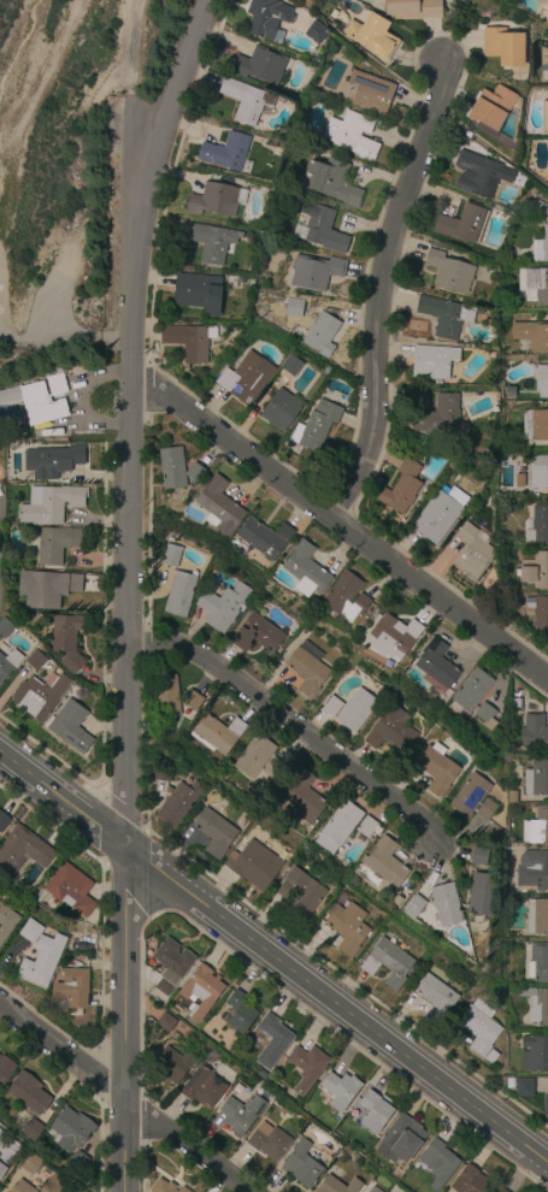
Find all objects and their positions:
building: (543, 1)
building: (413, 8)
building: (547, 11)
building: (266, 18)
building: (316, 31)
building: (372, 36)
road: (55, 42)
building: (503, 47)
road: (128, 48)
building: (261, 65)
building: (547, 70)
building: (370, 92)
building: (246, 101)
building: (493, 107)
building: (546, 117)
building: (350, 135)
building: (228, 153)
building: (276, 153)
road: (124, 155)
building: (476, 175)
building: (330, 179)
building: (518, 182)
building: (214, 199)
building: (537, 210)
building: (460, 224)
building: (319, 230)
building: (210, 241)
building: (542, 246)
building: (449, 271)
building: (316, 272)
building: (232, 282)
building: (535, 287)
building: (199, 291)
road: (382, 296)
building: (294, 307)
building: (444, 315)
dam: (4, 326)
building: (322, 334)
building: (531, 335)
road: (63, 340)
building: (190, 342)
building: (431, 362)
building: (290, 365)
building: (75, 371)
building: (246, 378)
building: (542, 378)
building: (57, 383)
building: (35, 403)
building: (279, 409)
building: (438, 415)
building: (535, 425)
building: (317, 427)
building: (52, 461)
building: (171, 468)
building: (195, 472)
building: (544, 478)
building: (401, 488)
building: (51, 504)
building: (219, 506)
building: (437, 513)
building: (537, 525)
road: (338, 527)
building: (264, 537)
building: (58, 544)
building: (471, 551)
building: (171, 556)
building: (306, 571)
building: (535, 572)
building: (270, 583)
building: (52, 588)
road: (126, 589)
building: (179, 595)
building: (346, 597)
building: (223, 606)
building: (538, 613)
building: (48, 622)
building: (5, 627)
building: (257, 635)
building: (389, 638)
building: (67, 641)
building: (35, 661)
building: (8, 665)
building: (437, 666)
building: (307, 673)
building: (471, 690)
building: (75, 692)
building: (40, 696)
building: (166, 697)
building: (191, 701)
building: (331, 707)
building: (357, 710)
building: (484, 715)
road: (295, 726)
building: (70, 727)
building: (391, 731)
building: (534, 733)
building: (217, 734)
building: (254, 757)
building: (272, 768)
building: (437, 768)
building: (163, 773)
building: (536, 778)
building: (469, 796)
building: (512, 797)
building: (304, 798)
building: (178, 804)
building: (485, 810)
building: (4, 822)
building: (338, 827)
building: (367, 827)
building: (536, 827)
building: (214, 833)
building: (24, 849)
building: (479, 856)
building: (495, 862)
building: (384, 863)
building: (253, 865)
building: (534, 872)
building: (70, 890)
building: (300, 893)
building: (482, 893)
building: (40, 896)
building: (396, 901)
building: (446, 904)
building: (413, 907)
building: (537, 917)
building: (6, 921)
building: (478, 923)
building: (348, 928)
building: (30, 932)
building: (77, 946)
road: (273, 957)
building: (42, 961)
building: (537, 961)
building: (388, 963)
building: (171, 966)
building: (76, 989)
building: (201, 991)
building: (435, 997)
building: (537, 1007)
building: (240, 1013)
building: (165, 1023)
building: (478, 1027)
building: (272, 1041)
building: (534, 1052)
building: (229, 1054)
building: (491, 1057)
building: (172, 1064)
building: (306, 1066)
building: (5, 1069)
building: (261, 1074)
building: (508, 1084)
building: (523, 1087)
building: (202, 1088)
building: (340, 1091)
building: (28, 1092)
road: (125, 1096)
building: (546, 1103)
building: (366, 1114)
building: (241, 1115)
building: (31, 1129)
building: (71, 1129)
building: (402, 1138)
building: (269, 1141)
building: (440, 1161)
building: (79, 1163)
building: (30, 1164)
building: (301, 1166)
building: (2, 1169)
building: (469, 1181)
building: (54, 1185)
building: (337, 1186)
building: (22, 1187)
building: (165, 1187)
building: (501, 1190)
building: (182, 1191)
building: (373, 1191)

